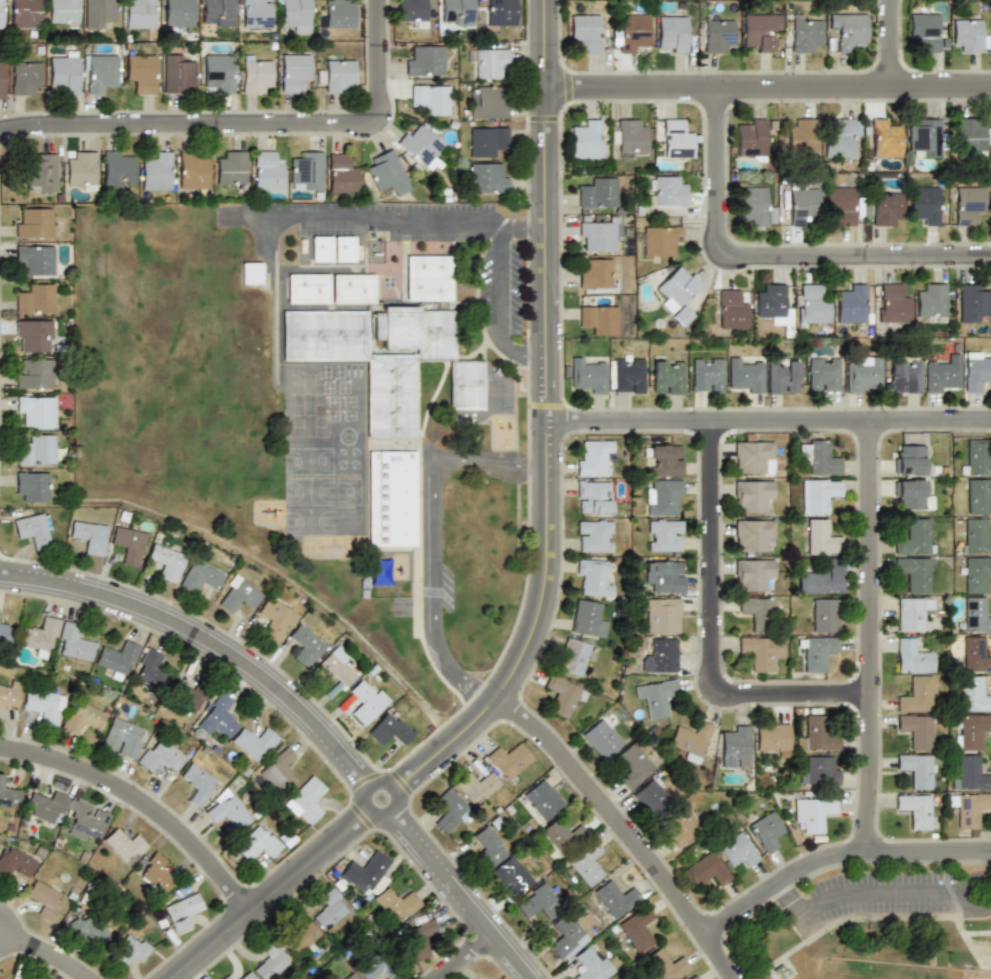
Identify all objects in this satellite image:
building: (63, 12)
building: (412, 12)
building: (456, 12)
building: (24, 13)
building: (98, 13)
building: (140, 13)
building: (178, 13)
building: (217, 13)
building: (339, 13)
building: (499, 13)
building: (1, 14)
building: (256, 14)
building: (295, 16)
building: (758, 30)
building: (848, 30)
building: (923, 31)
building: (585, 32)
building: (632, 32)
building: (671, 33)
building: (802, 33)
building: (717, 34)
building: (965, 35)
road: (886, 44)
building: (488, 60)
building: (425, 61)
building: (218, 71)
building: (63, 72)
building: (98, 72)
building: (140, 72)
building: (294, 72)
building: (177, 73)
building: (255, 74)
building: (339, 75)
building: (23, 76)
building: (2, 79)
road: (766, 88)
building: (430, 99)
building: (487, 101)
road: (248, 126)
building: (968, 134)
building: (800, 135)
building: (990, 136)
building: (630, 137)
building: (839, 137)
building: (882, 137)
building: (676, 138)
building: (922, 138)
building: (586, 139)
building: (749, 139)
building: (487, 140)
building: (421, 146)
building: (232, 167)
building: (118, 169)
building: (193, 169)
building: (82, 170)
building: (306, 170)
building: (157, 171)
building: (268, 171)
building: (386, 172)
building: (41, 174)
building: (341, 174)
building: (487, 178)
building: (598, 193)
building: (664, 195)
building: (800, 203)
building: (923, 204)
building: (967, 204)
building: (750, 205)
building: (839, 206)
building: (884, 207)
building: (990, 209)
road: (366, 220)
building: (33, 222)
road: (520, 224)
road: (271, 234)
building: (599, 235)
building: (656, 239)
building: (321, 248)
building: (347, 248)
road: (773, 254)
building: (35, 259)
building: (251, 273)
building: (595, 274)
building: (428, 277)
road: (494, 286)
building: (308, 287)
building: (675, 287)
building: (353, 288)
building: (35, 299)
building: (769, 301)
building: (929, 301)
building: (970, 303)
building: (849, 304)
building: (890, 304)
building: (808, 305)
building: (730, 310)
building: (681, 315)
building: (598, 319)
building: (33, 336)
road: (520, 353)
building: (386, 358)
building: (975, 371)
building: (861, 373)
building: (34, 374)
building: (587, 375)
building: (627, 375)
building: (706, 375)
building: (744, 375)
building: (822, 375)
building: (942, 375)
building: (667, 376)
building: (781, 376)
building: (903, 376)
building: (35, 410)
road: (768, 418)
building: (36, 450)
building: (754, 457)
building: (818, 457)
building: (976, 457)
building: (594, 458)
building: (908, 459)
building: (665, 460)
building: (31, 486)
building: (752, 495)
building: (818, 495)
building: (911, 495)
building: (976, 495)
building: (593, 497)
building: (663, 497)
building: (391, 498)
building: (33, 529)
building: (752, 535)
building: (89, 536)
building: (594, 536)
building: (664, 536)
building: (914, 536)
building: (974, 536)
building: (819, 537)
road: (431, 539)
building: (128, 545)
building: (166, 562)
road: (546, 562)
building: (380, 571)
building: (912, 573)
building: (752, 574)
building: (975, 574)
building: (663, 575)
building: (201, 577)
building: (591, 577)
building: (822, 577)
building: (238, 595)
building: (910, 612)
building: (759, 613)
building: (662, 614)
building: (823, 615)
building: (974, 615)
building: (587, 618)
building: (276, 619)
road: (709, 630)
building: (4, 632)
road: (866, 636)
building: (38, 637)
building: (73, 642)
building: (305, 645)
building: (817, 652)
building: (759, 653)
building: (973, 654)
building: (573, 656)
building: (661, 656)
building: (911, 656)
building: (117, 659)
building: (149, 668)
building: (337, 669)
building: (972, 694)
building: (10, 695)
building: (186, 695)
building: (563, 695)
building: (916, 695)
building: (656, 696)
building: (366, 700)
building: (44, 706)
road: (307, 716)
building: (218, 717)
building: (83, 718)
building: (389, 730)
building: (916, 730)
building: (969, 731)
building: (816, 735)
building: (122, 737)
building: (601, 738)
building: (772, 738)
building: (690, 739)
building: (254, 742)
building: (734, 747)
building: (160, 757)
building: (508, 760)
building: (633, 765)
building: (277, 770)
building: (819, 770)
building: (916, 770)
building: (969, 773)
building: (197, 783)
building: (476, 786)
building: (9, 794)
building: (542, 798)
building: (650, 798)
building: (306, 800)
building: (45, 806)
road: (147, 810)
building: (916, 810)
building: (969, 810)
building: (226, 811)
building: (448, 812)
building: (812, 813)
building: (86, 818)
building: (682, 826)
road: (628, 827)
building: (766, 831)
building: (561, 834)
building: (125, 843)
building: (257, 844)
building: (487, 847)
building: (737, 850)
road: (836, 857)
building: (14, 862)
building: (586, 864)
building: (707, 869)
building: (365, 871)
building: (155, 873)
building: (510, 874)
road: (867, 892)
building: (615, 897)
building: (44, 899)
building: (539, 904)
building: (396, 905)
building: (329, 909)
building: (181, 911)
park: (866, 921)
building: (85, 927)
building: (637, 929)
building: (302, 936)
building: (565, 937)
building: (418, 939)
building: (129, 949)
road: (43, 956)
road: (476, 959)
building: (269, 962)
building: (591, 964)
building: (664, 964)
building: (371, 966)
building: (246, 976)
building: (351, 976)
building: (16, 977)
building: (227, 977)
building: (692, 977)

